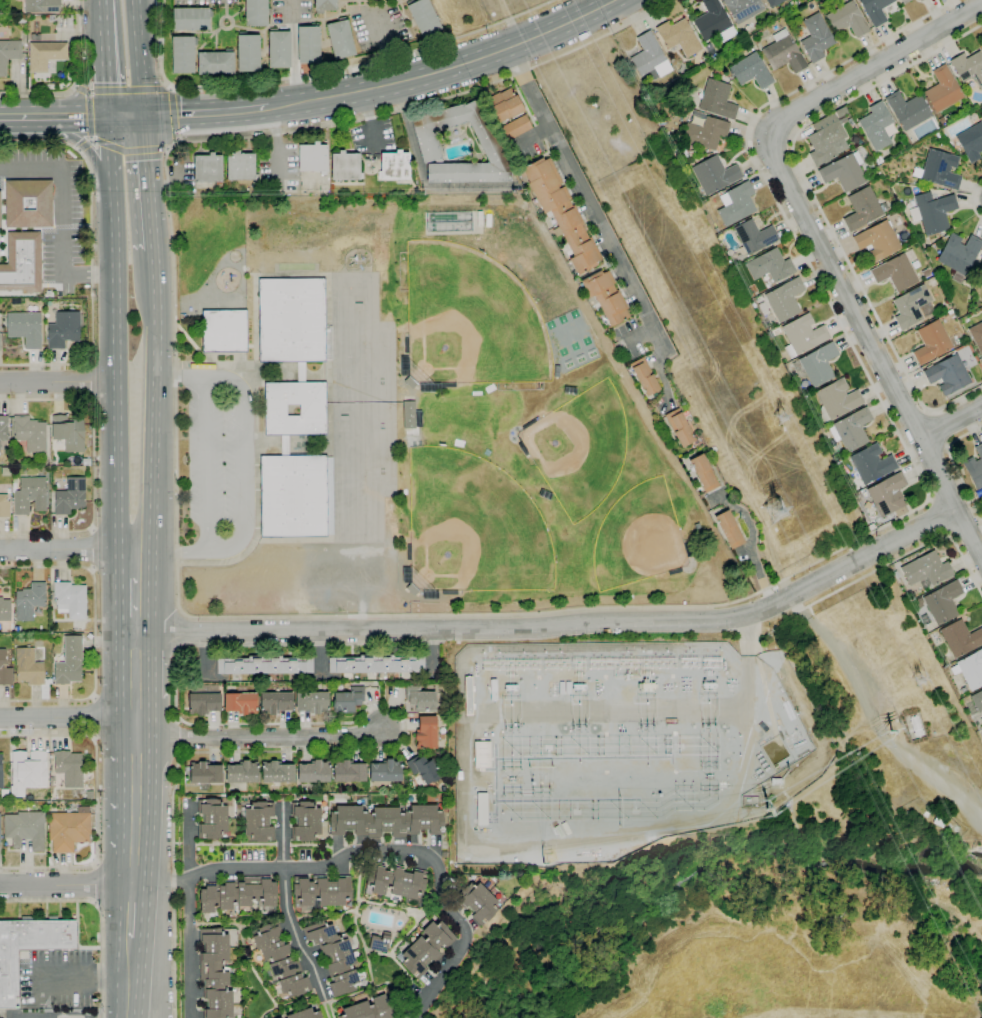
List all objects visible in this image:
building: (918, 0)
building: (920, 0)
parking lot: (203, 1)
building: (904, 1)
building: (773, 3)
building: (42, 5)
building: (325, 5)
building: (813, 5)
building: (743, 8)
building: (875, 10)
parking lot: (291, 11)
building: (256, 13)
building: (424, 17)
building: (21, 19)
building: (191, 19)
building: (848, 19)
building: (712, 20)
parking lot: (377, 26)
building: (35, 37)
building: (678, 37)
building: (816, 38)
building: (340, 39)
building: (308, 44)
building: (708, 46)
building: (279, 50)
building: (248, 52)
road: (294, 52)
building: (783, 53)
building: (8, 54)
building: (45, 54)
building: (183, 54)
building: (649, 56)
building: (706, 57)
road: (106, 58)
road: (140, 58)
building: (215, 63)
road: (91, 66)
road: (445, 66)
road: (870, 67)
building: (969, 70)
building: (751, 71)
road: (321, 72)
building: (718, 73)
road: (75, 81)
road: (80, 89)
road: (129, 89)
building: (943, 90)
building: (717, 99)
building: (504, 105)
building: (907, 110)
road: (206, 112)
road: (88, 115)
road: (174, 115)
road: (126, 116)
traffic signals: (144, 116)
building: (695, 116)
road: (79, 117)
traffic signals: (109, 117)
road: (25, 118)
building: (876, 125)
building: (515, 127)
building: (705, 132)
building: (938, 134)
building: (971, 142)
building: (826, 143)
road: (84, 145)
building: (490, 146)
road: (87, 149)
road: (129, 150)
building: (691, 152)
building: (312, 157)
building: (877, 160)
building: (241, 166)
building: (345, 166)
building: (394, 166)
building: (208, 168)
parking lot: (278, 168)
building: (939, 169)
building: (844, 171)
building: (714, 174)
road: (150, 182)
building: (255, 187)
building: (414, 191)
road: (586, 195)
road: (974, 199)
building: (28, 203)
building: (736, 203)
road: (820, 204)
building: (863, 209)
building: (933, 212)
building: (561, 213)
building: (0, 215)
road: (60, 216)
building: (450, 221)
building: (753, 237)
building: (878, 241)
building: (959, 255)
road: (91, 258)
building: (22, 263)
building: (770, 267)
building: (896, 271)
building: (926, 273)
building: (932, 280)
building: (606, 296)
building: (783, 299)
building: (911, 306)
building: (293, 321)
park: (470, 321)
building: (25, 328)
building: (63, 330)
building: (224, 331)
road: (114, 333)
building: (803, 335)
building: (977, 335)
building: (931, 342)
building: (406, 345)
road: (869, 345)
building: (816, 365)
building: (628, 369)
building: (300, 372)
road: (659, 373)
building: (949, 375)
building: (644, 376)
road: (57, 381)
road: (89, 381)
building: (410, 382)
building: (448, 385)
road: (156, 400)
building: (837, 400)
building: (312, 410)
building: (409, 414)
power tower: (779, 417)
road: (949, 420)
building: (527, 425)
building: (680, 427)
building: (3, 428)
building: (851, 429)
road: (939, 429)
building: (30, 433)
building: (68, 433)
road: (244, 434)
building: (284, 445)
building: (522, 447)
park: (578, 450)
parking lot: (209, 457)
road: (205, 460)
building: (74, 461)
building: (43, 462)
road: (93, 465)
building: (871, 465)
road: (954, 466)
building: (975, 467)
building: (703, 473)
building: (697, 488)
building: (979, 492)
building: (888, 494)
building: (30, 495)
building: (70, 496)
building: (296, 496)
building: (4, 506)
power tower: (774, 513)
building: (898, 513)
road: (938, 517)
park: (471, 529)
building: (729, 529)
park: (640, 537)
road: (751, 544)
road: (169, 548)
road: (67, 549)
road: (91, 549)
building: (408, 551)
road: (903, 555)
road: (134, 563)
building: (926, 570)
building: (895, 574)
building: (412, 589)
building: (449, 592)
building: (70, 600)
building: (29, 601)
building: (943, 602)
road: (135, 605)
building: (4, 610)
road: (401, 615)
road: (184, 616)
building: (927, 620)
road: (558, 625)
building: (928, 628)
road: (180, 633)
road: (95, 634)
building: (960, 638)
road: (178, 650)
building: (69, 662)
building: (376, 664)
road: (136, 665)
building: (264, 665)
building: (28, 667)
building: (970, 669)
building: (4, 670)
power tower: (916, 681)
building: (578, 687)
building: (647, 687)
building: (511, 688)
building: (204, 699)
building: (966, 699)
building: (348, 700)
building: (419, 700)
building: (977, 700)
building: (240, 701)
building: (276, 702)
building: (312, 702)
road: (371, 706)
road: (93, 716)
road: (67, 717)
road: (872, 717)
road: (136, 718)
building: (915, 726)
building: (426, 732)
power tower: (891, 732)
road: (261, 736)
power substation: (620, 745)
building: (482, 755)
building: (68, 768)
building: (425, 769)
building: (29, 770)
building: (385, 771)
building: (1, 772)
building: (242, 772)
building: (277, 772)
building: (313, 772)
building: (348, 772)
building: (205, 774)
building: (776, 781)
building: (444, 789)
building: (53, 798)
building: (368, 800)
road: (96, 801)
building: (23, 804)
building: (15, 808)
building: (68, 809)
road: (135, 809)
power tower: (767, 809)
building: (213, 817)
building: (386, 820)
building: (257, 821)
building: (305, 821)
building: (939, 821)
building: (25, 829)
building: (68, 829)
road: (372, 849)
power tower: (543, 863)
road: (67, 883)
building: (396, 883)
road: (96, 884)
building: (320, 893)
building: (238, 894)
building: (477, 902)
road: (286, 906)
road: (132, 909)
road: (99, 912)
building: (379, 943)
building: (29, 948)
building: (427, 948)
road: (189, 949)
building: (334, 956)
building: (277, 961)
building: (215, 973)
road: (129, 978)
parking lot: (57, 979)
building: (369, 1009)
building: (304, 1014)
building: (238, 1016)
building: (269, 1017)

